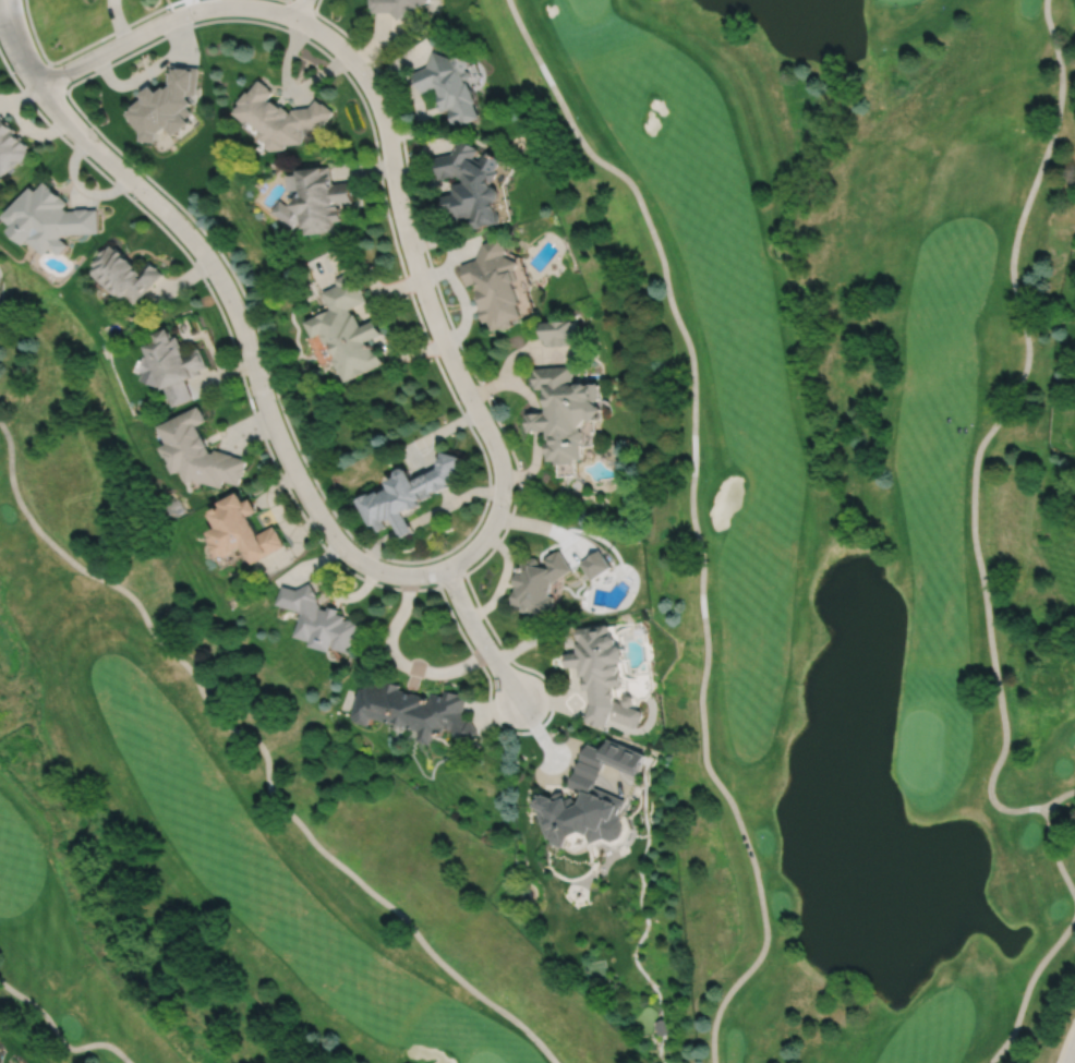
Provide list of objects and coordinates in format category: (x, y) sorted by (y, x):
road: (287, 0)
street lamp: (314, 1)
road: (300, 4)
building: (395, 5)
road: (299, 9)
street lamp: (194, 21)
road: (84, 46)
street lamp: (373, 68)
street lamp: (16, 74)
road: (56, 76)
street lamp: (71, 80)
building: (452, 85)
building: (168, 104)
building: (280, 117)
building: (11, 146)
road: (391, 158)
building: (473, 183)
street lamp: (138, 200)
building: (315, 200)
street lamp: (391, 215)
building: (50, 219)
building: (125, 274)
street lamp: (209, 285)
building: (497, 285)
road: (230, 301)
street lamp: (421, 314)
building: (348, 328)
building: (559, 333)
building: (172, 366)
street lamp: (273, 390)
street lamp: (461, 402)
building: (565, 412)
building: (198, 451)
road: (974, 468)
road: (487, 480)
building: (334, 490)
park: (841, 491)
building: (408, 494)
street lamp: (509, 507)
road: (692, 521)
building: (242, 528)
street lamp: (321, 539)
building: (595, 564)
road: (451, 579)
building: (537, 582)
street lamp: (427, 583)
building: (318, 618)
road: (478, 635)
street lamp: (496, 641)
building: (601, 674)
building: (415, 710)
road: (499, 724)
road: (262, 749)
road: (1059, 796)
building: (589, 797)
park: (210, 800)
road: (1027, 987)
building: (662, 1027)
road: (59, 1037)
road: (1064, 1039)
road: (1071, 1053)

